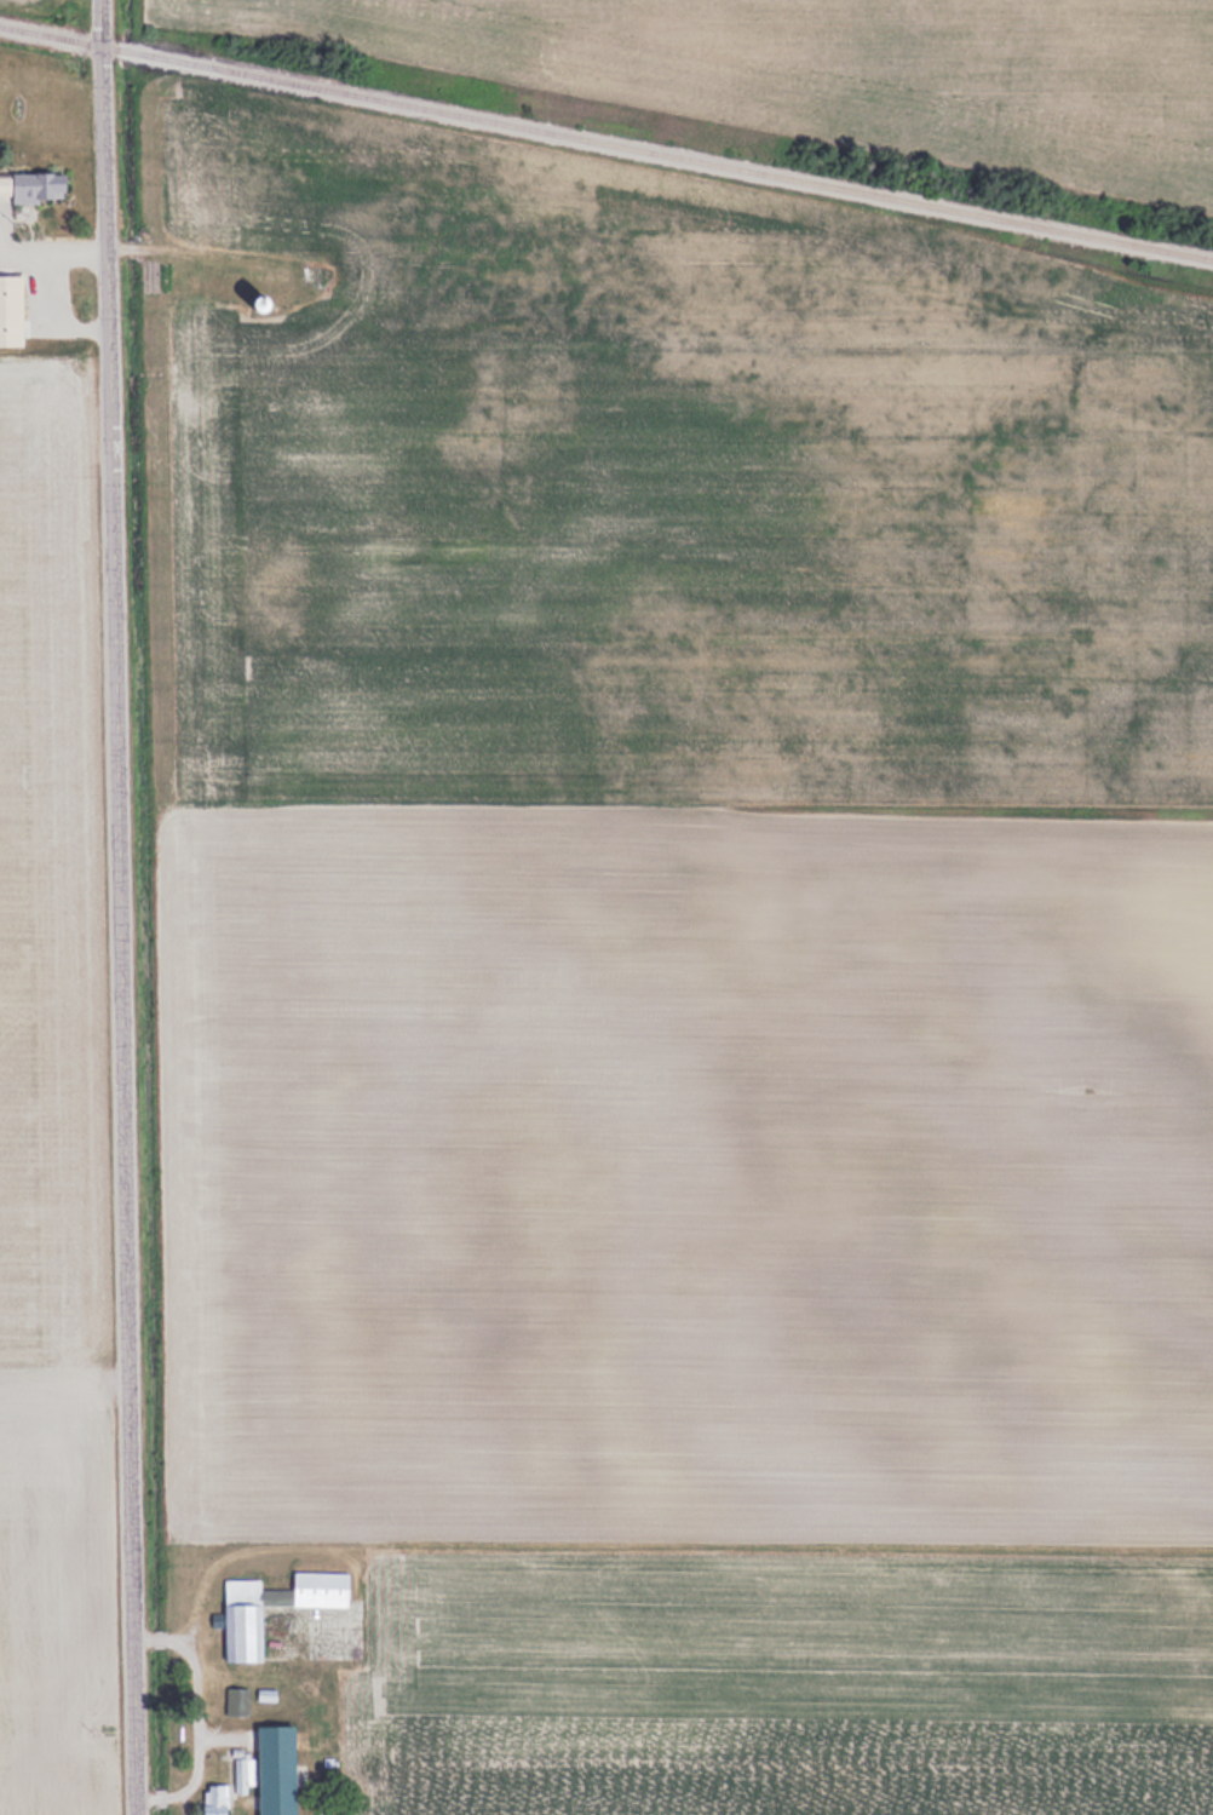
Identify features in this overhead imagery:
railway: (606, 143)
building: (30, 184)
building: (8, 309)
road: (125, 907)
building: (241, 1633)
building: (235, 1701)
building: (269, 1770)
building: (212, 1799)

